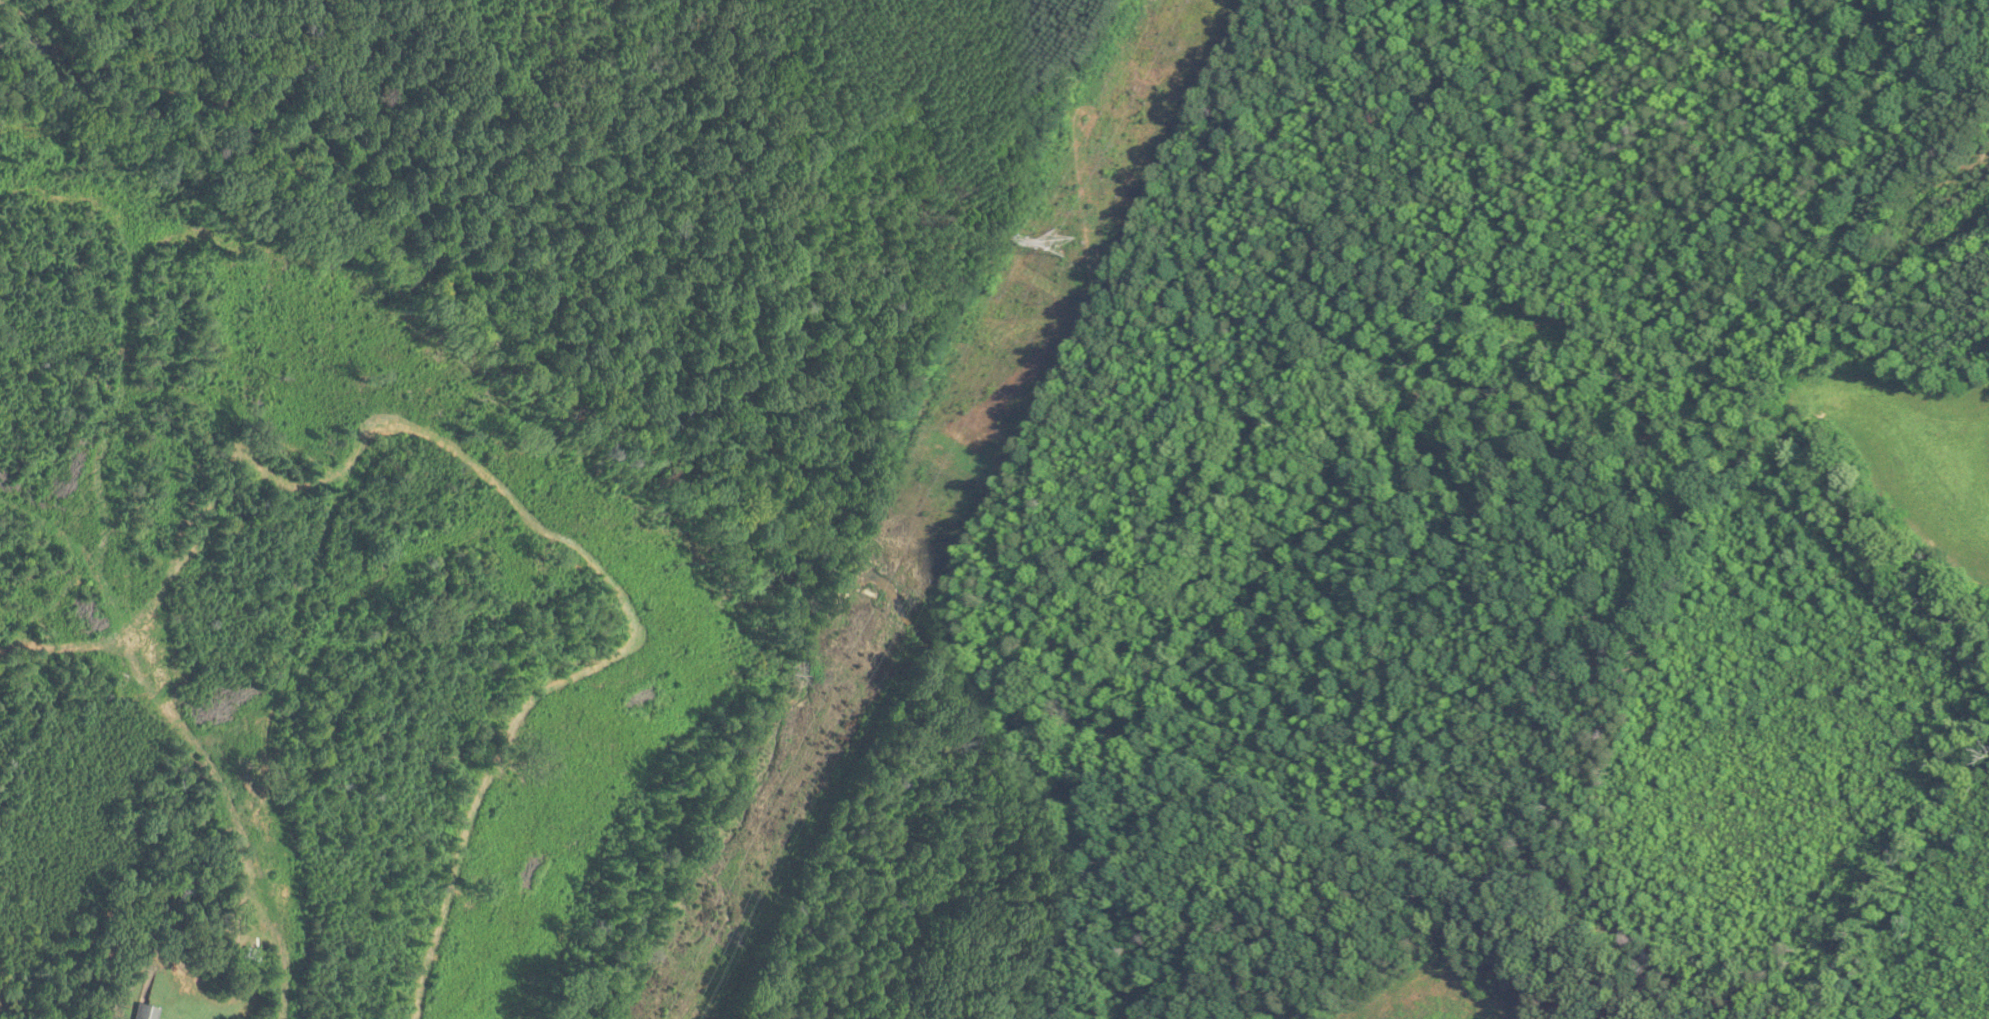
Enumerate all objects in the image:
power tower: (1062, 241)
building: (249, 956)
building: (143, 1012)

